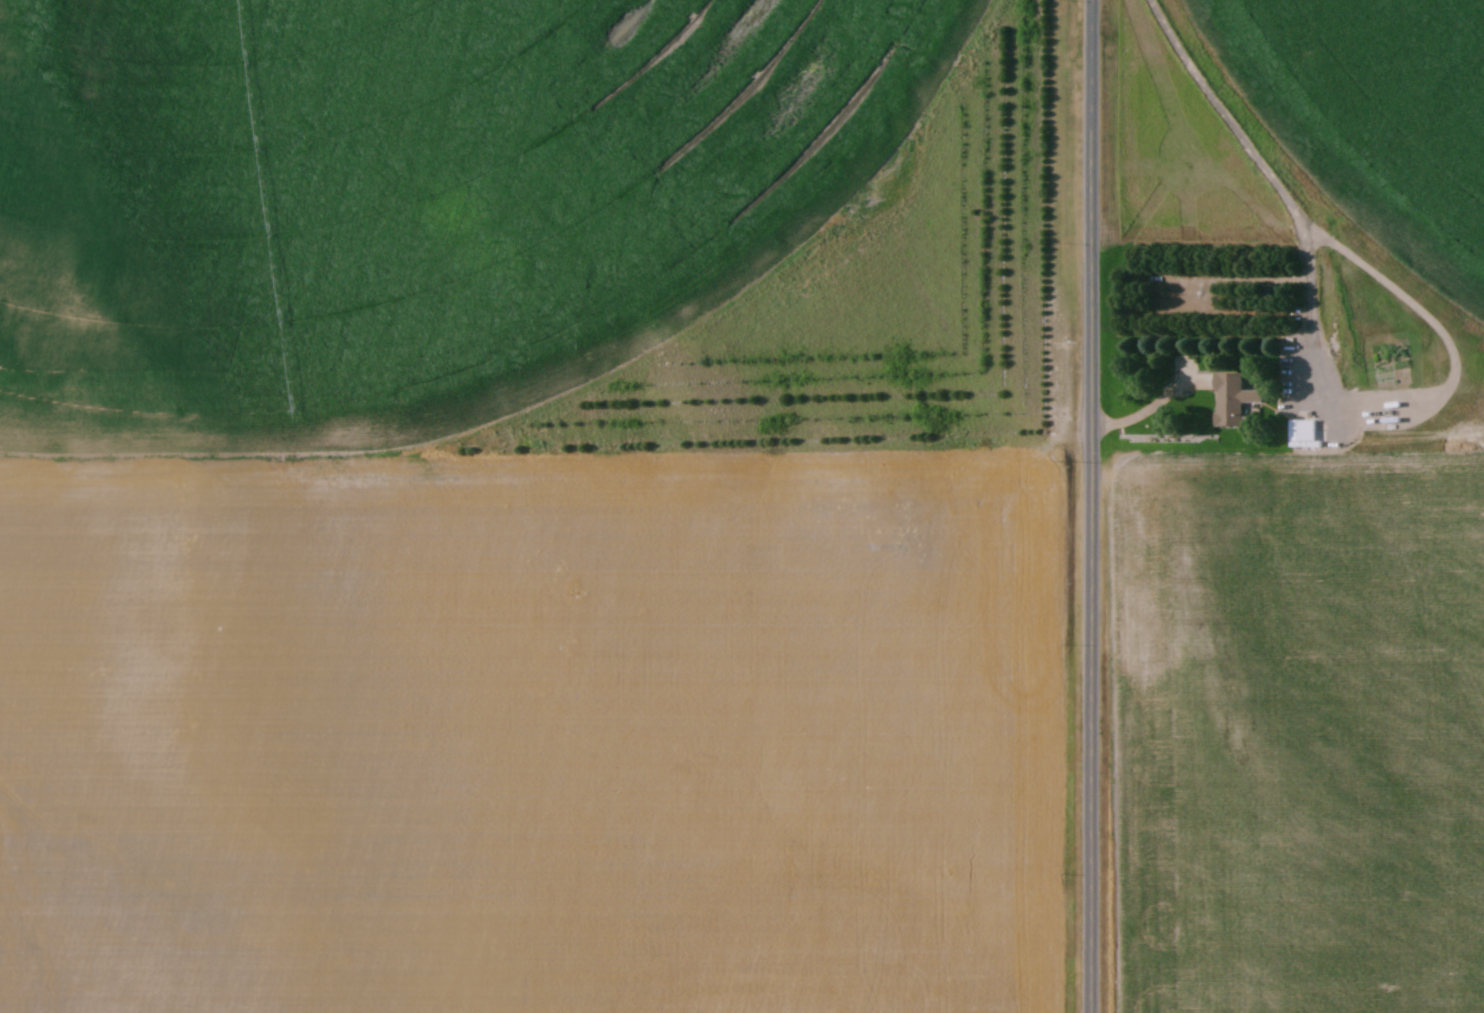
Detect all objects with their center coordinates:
building: (1236, 402)
road: (1148, 413)
building: (1307, 432)
road: (1091, 506)

